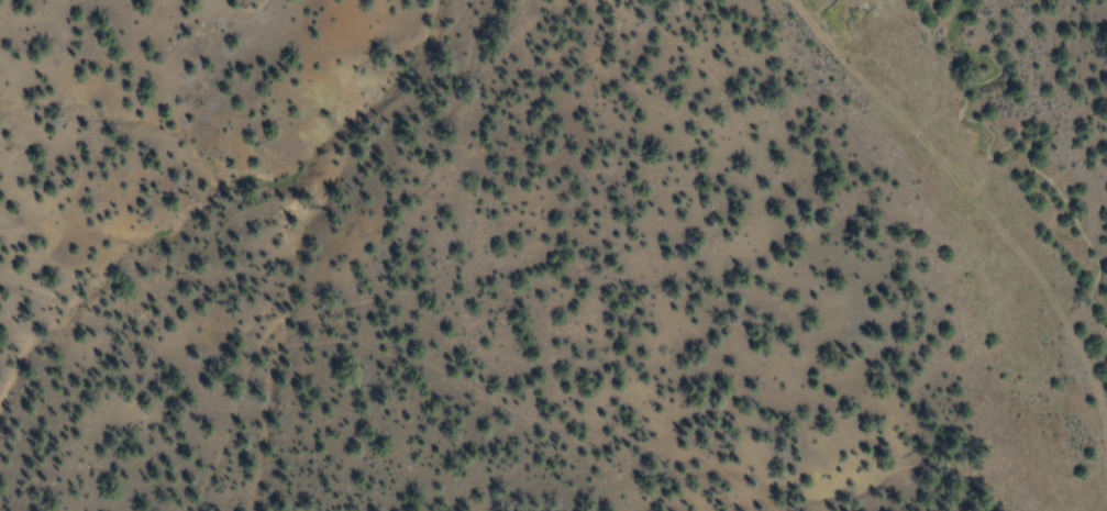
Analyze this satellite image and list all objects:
road: (917, 246)
road: (1009, 446)

